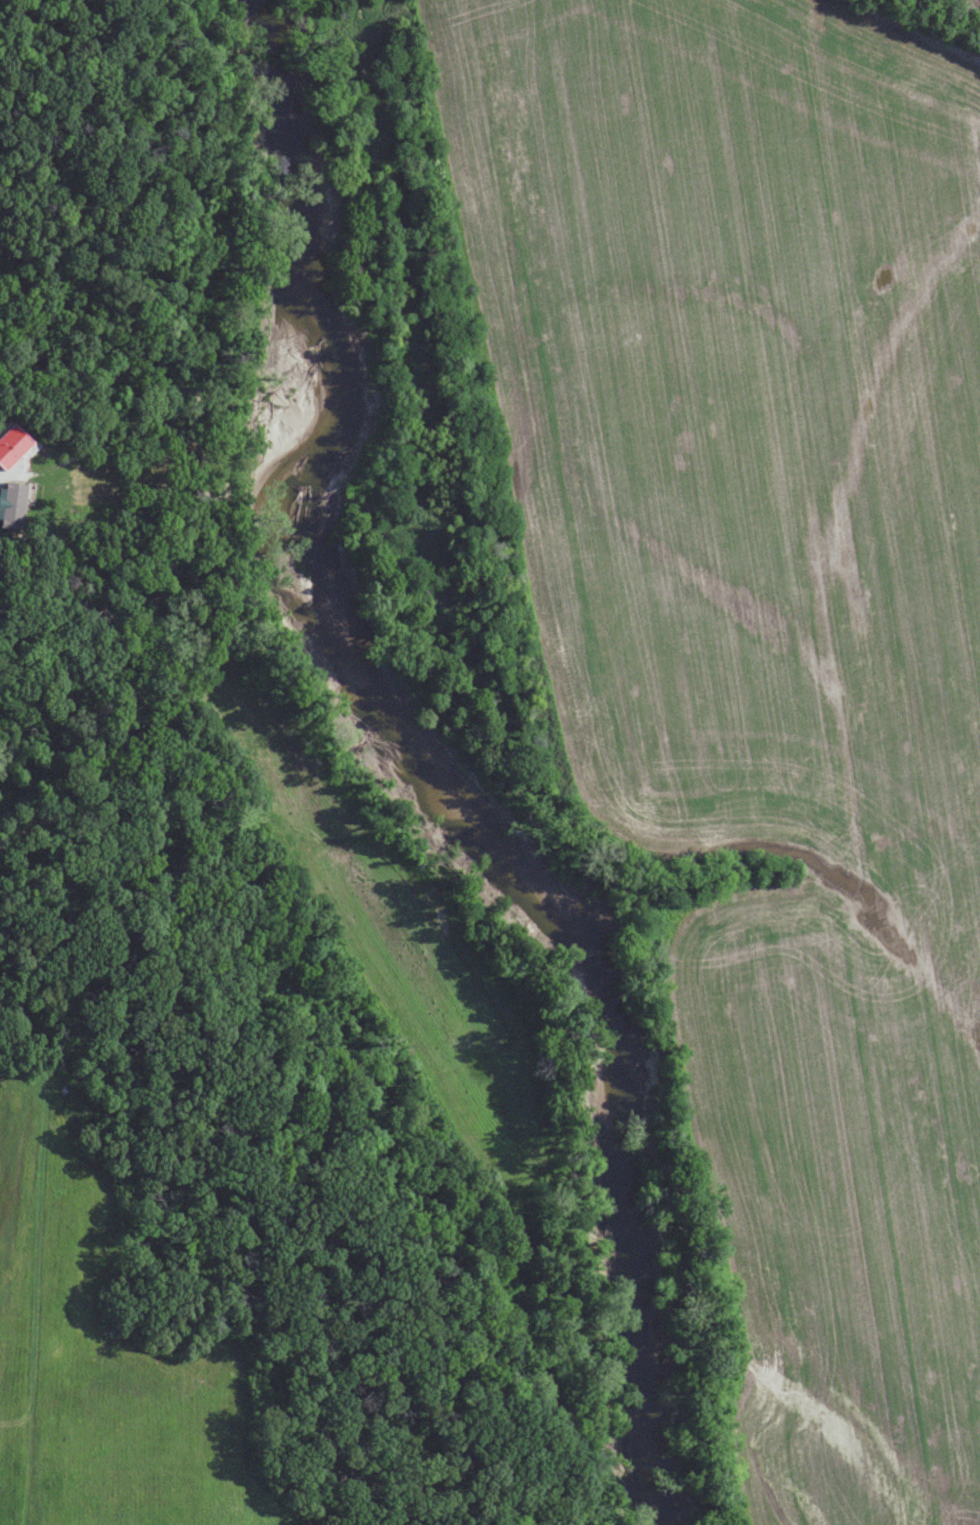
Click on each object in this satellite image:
river: (441, 766)

